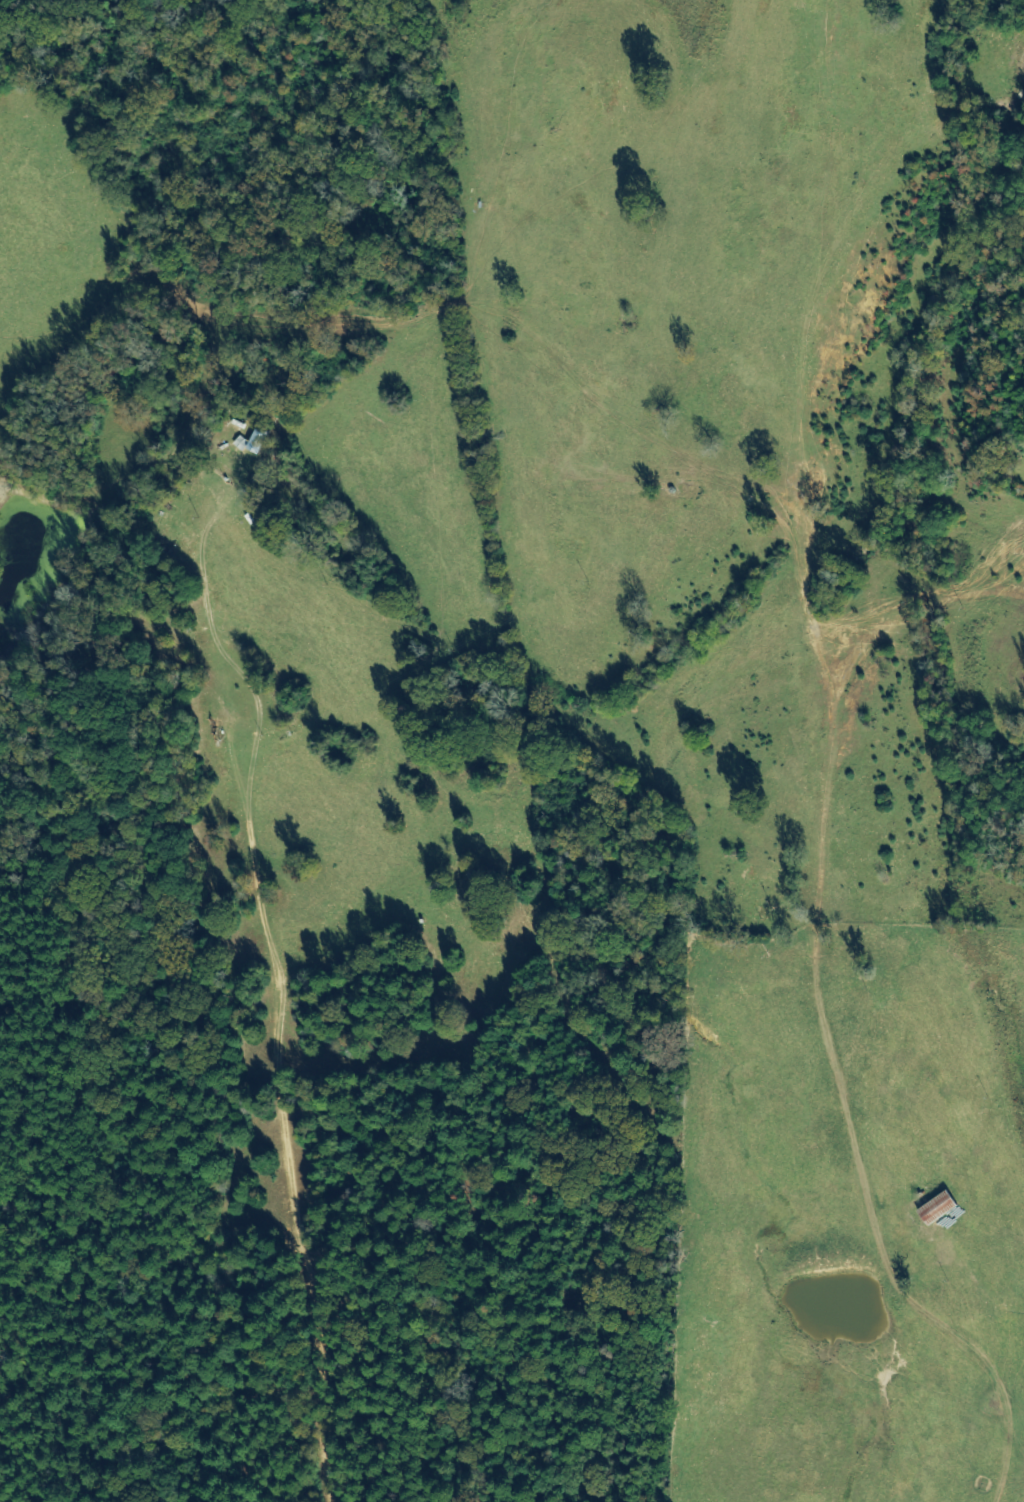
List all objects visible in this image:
road: (825, 757)
road: (269, 964)
building: (936, 1209)

